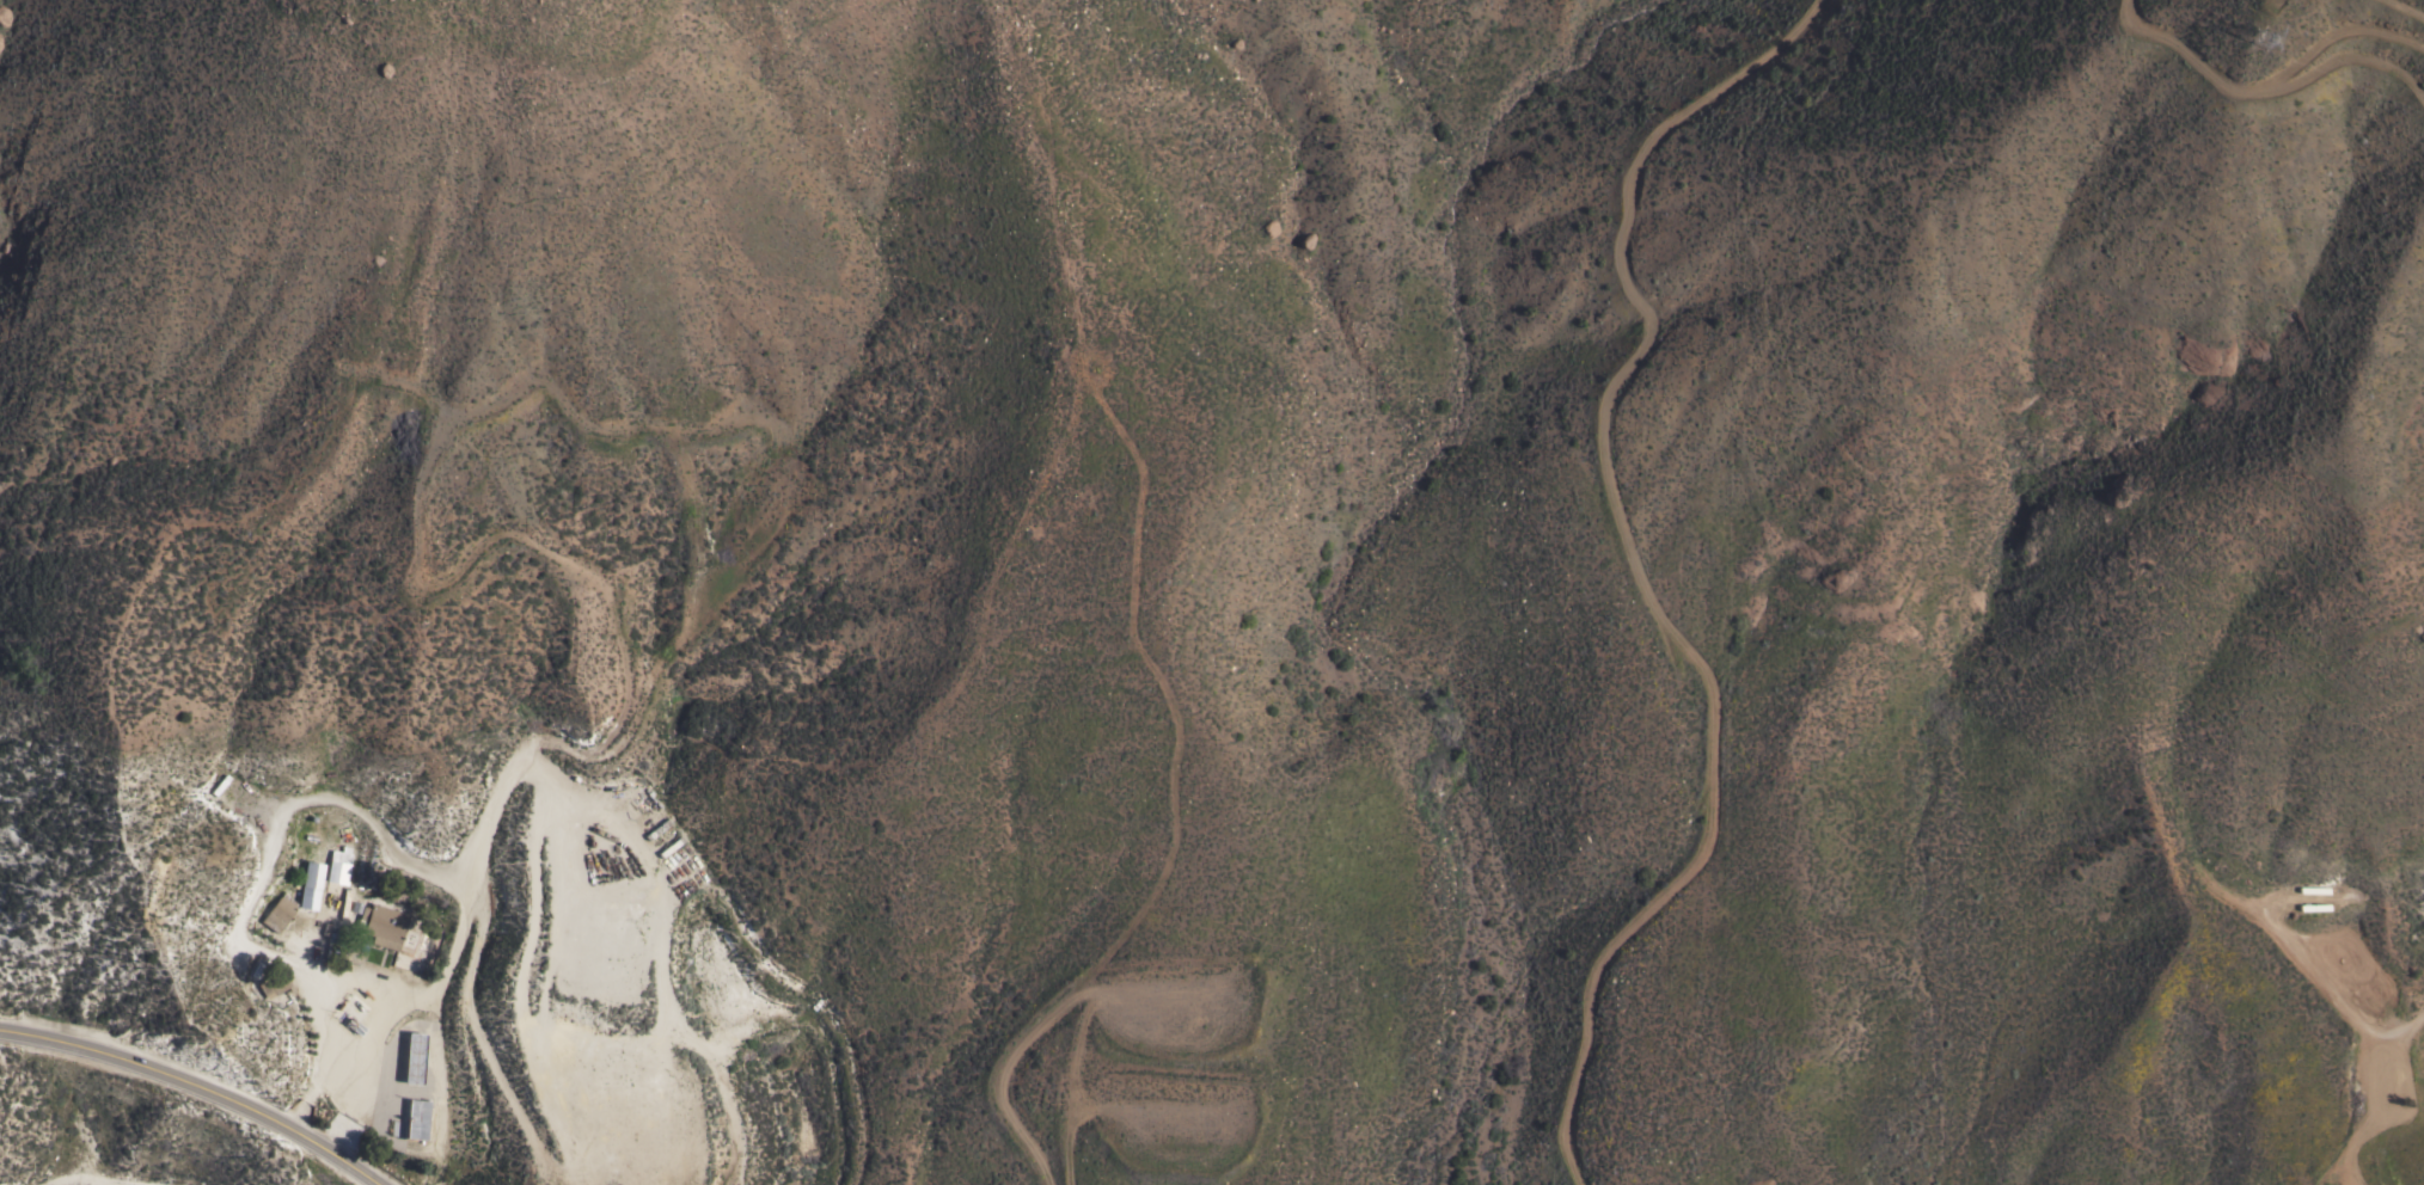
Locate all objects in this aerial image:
power tower: (2267, 48)
road: (287, 816)
building: (337, 865)
building: (308, 885)
building: (277, 913)
building: (381, 925)
building: (271, 984)
road: (434, 984)
building: (412, 1057)
road: (198, 1087)
road: (356, 1105)
road: (442, 1106)
building: (415, 1119)

